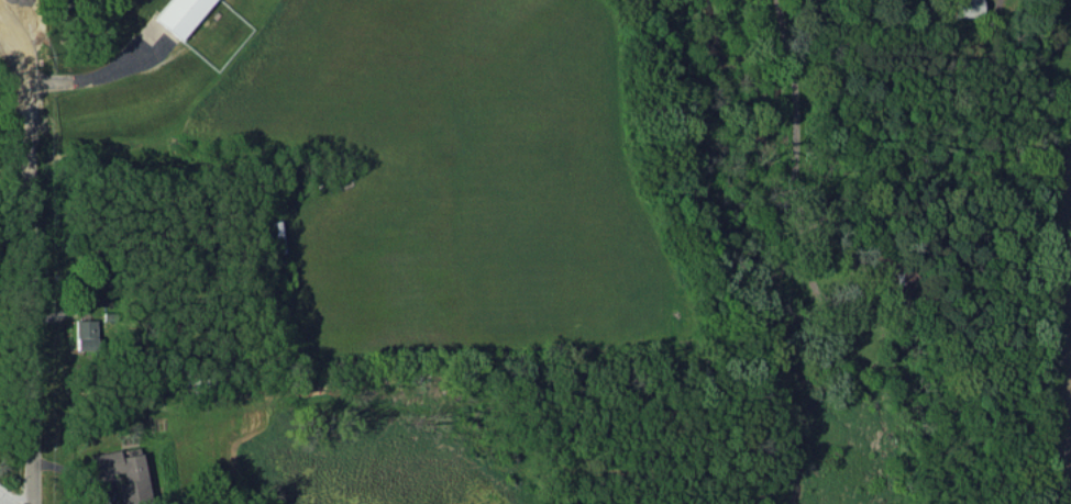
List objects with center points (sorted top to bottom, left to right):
building: (964, 8)
building: (180, 14)
road: (14, 25)
road: (10, 44)
road: (86, 77)
road: (794, 136)
road: (24, 276)
building: (84, 334)
building: (123, 474)

